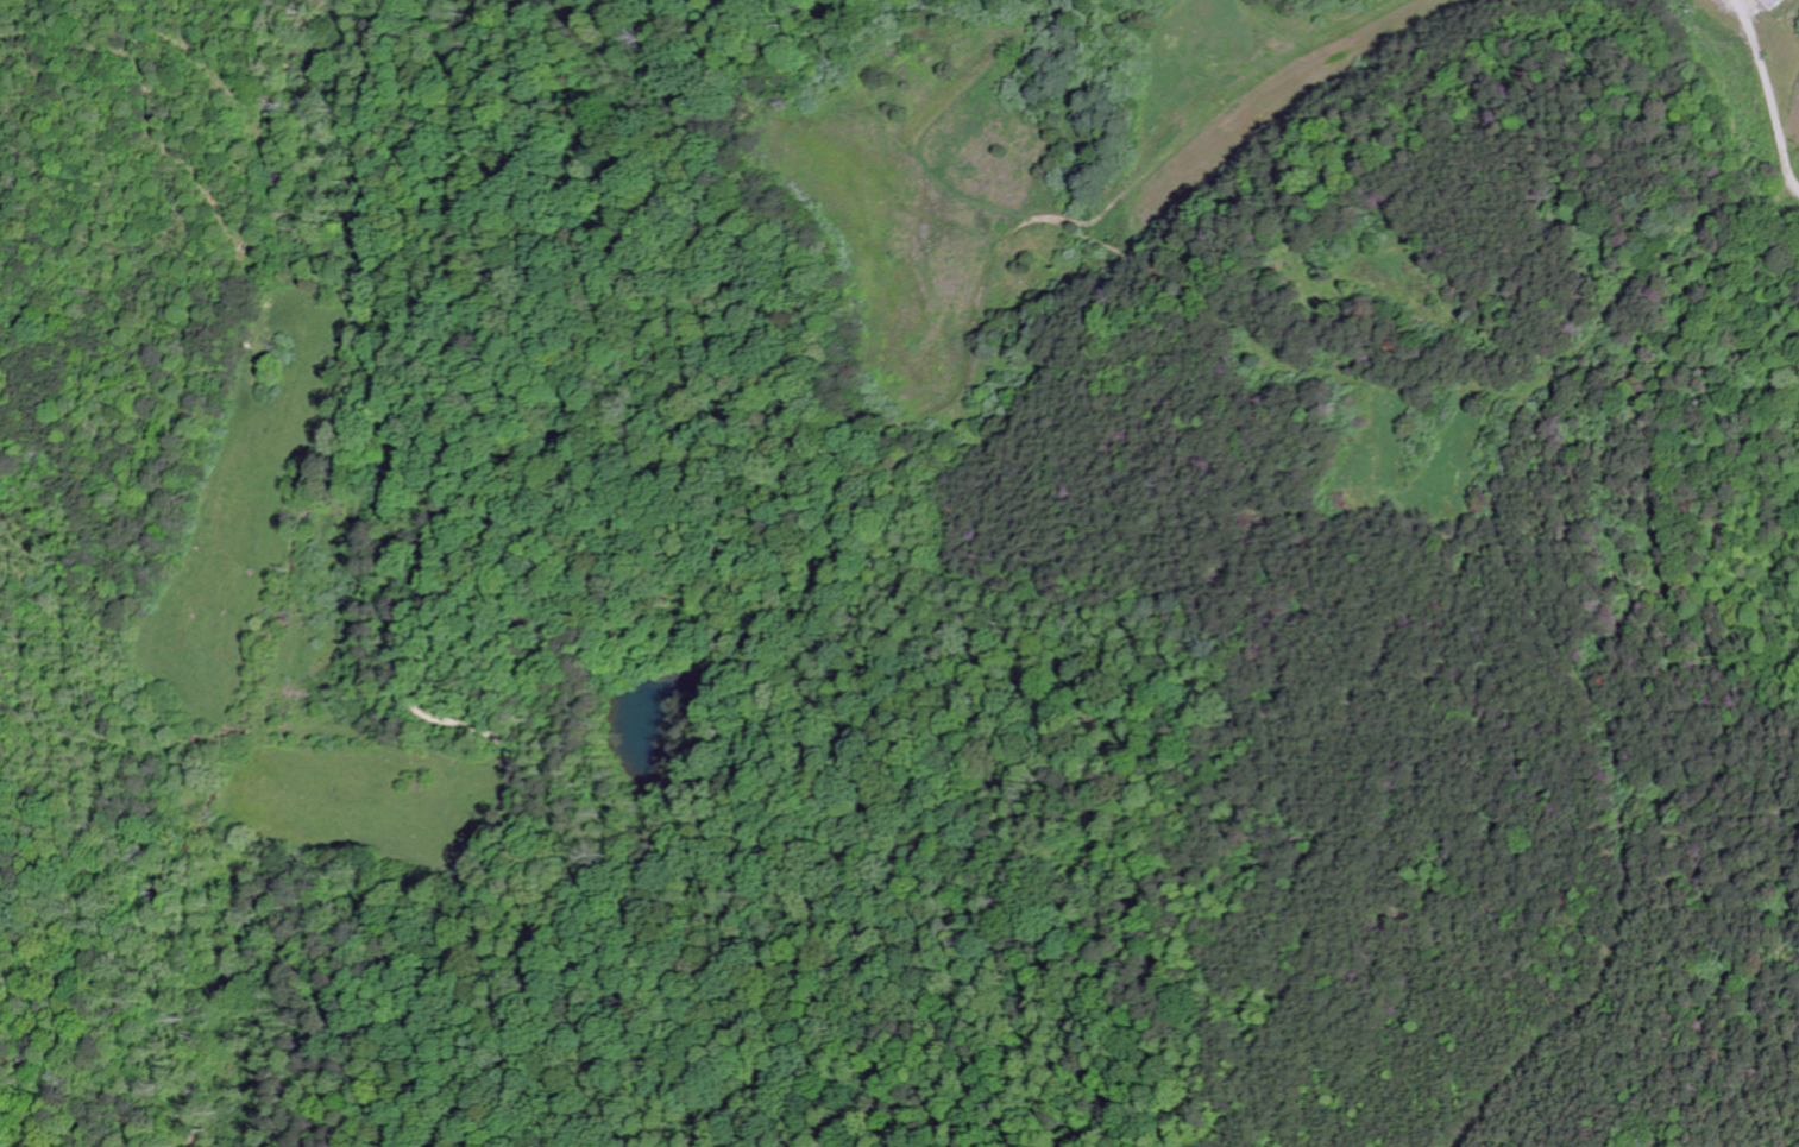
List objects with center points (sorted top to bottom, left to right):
road: (1774, 93)
road: (405, 611)

